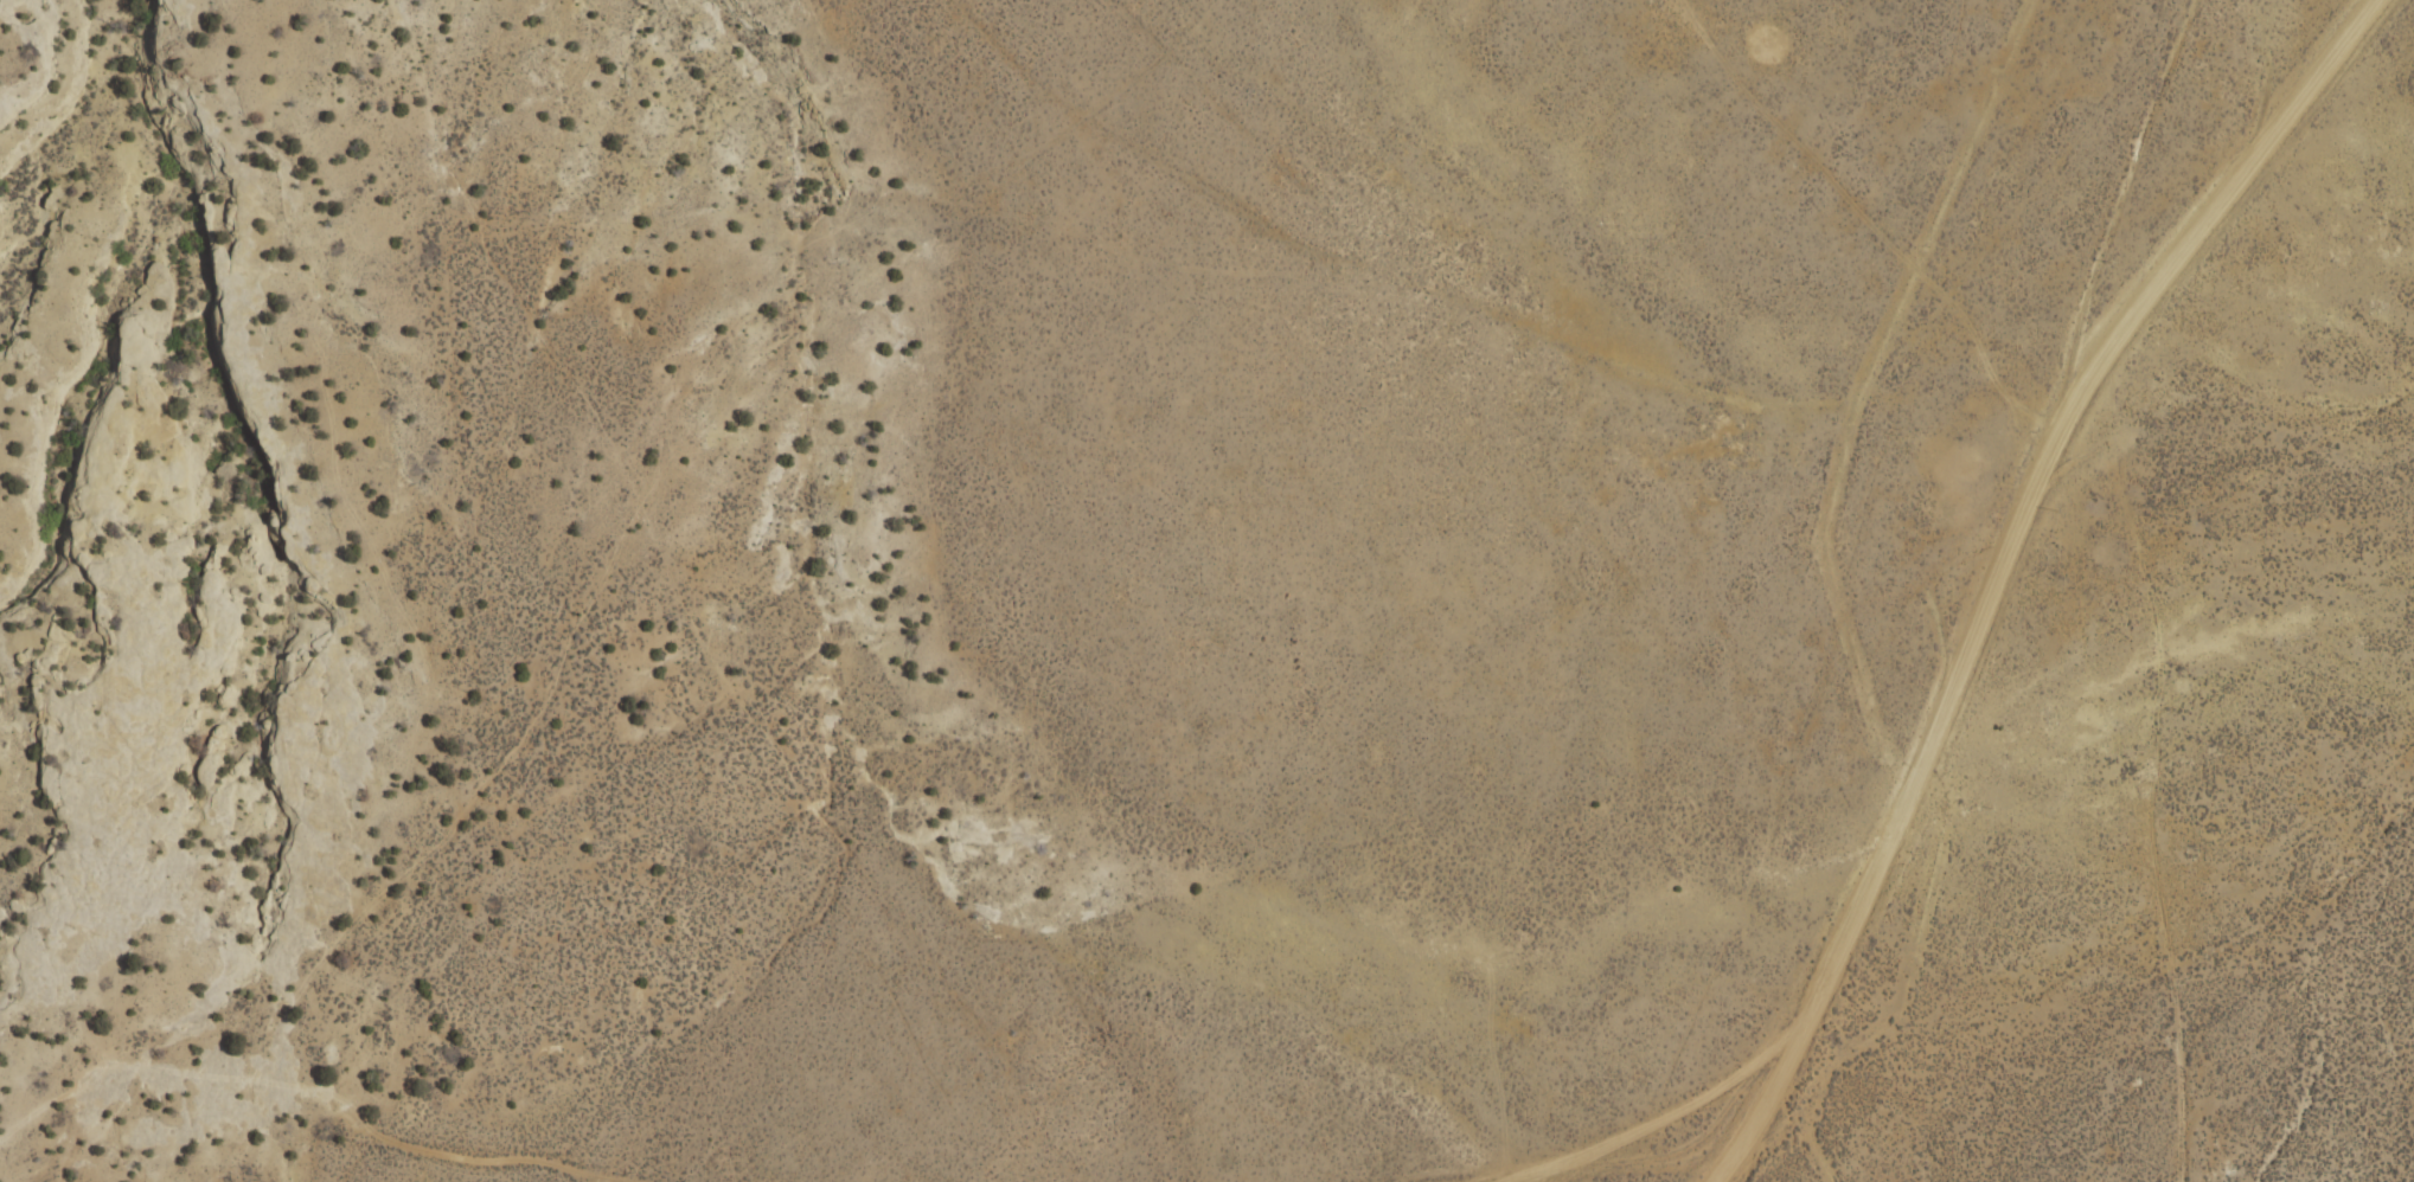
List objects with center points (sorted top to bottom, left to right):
road: (1378, 413)
road: (1970, 550)
road: (1248, 764)
road: (1821, 1126)

